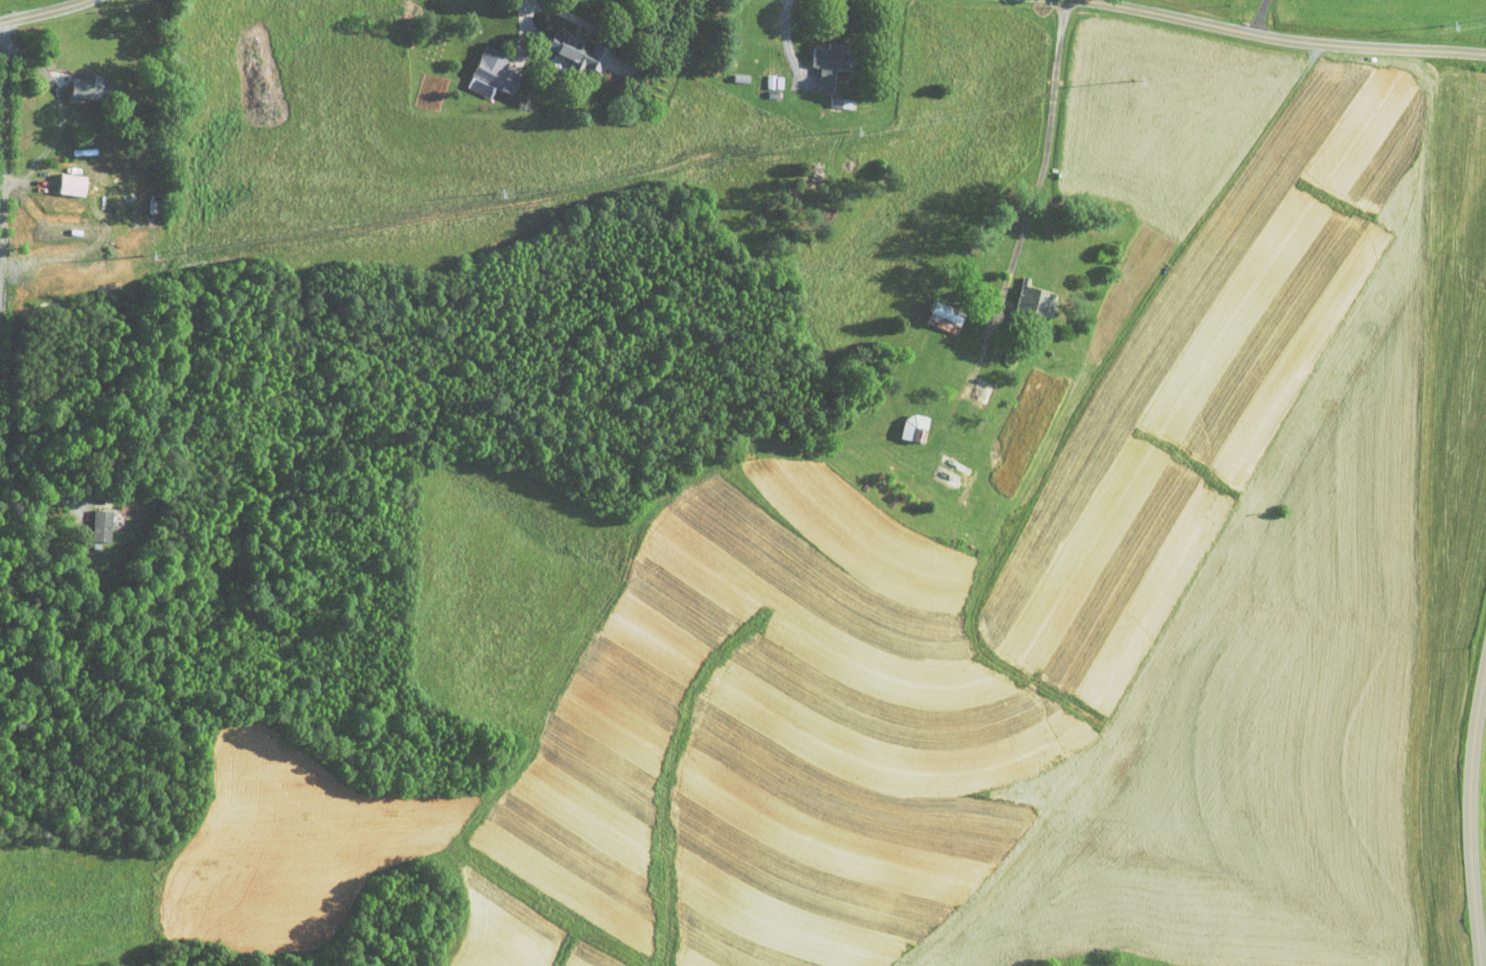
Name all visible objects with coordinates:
road: (42, 13)
road: (1259, 16)
road: (605, 33)
road: (786, 40)
building: (569, 43)
road: (1320, 46)
building: (821, 56)
building: (483, 67)
building: (764, 75)
building: (82, 81)
power tower: (1064, 92)
road: (49, 107)
road: (1009, 109)
power tower: (896, 122)
power tower: (760, 146)
building: (64, 177)
power tower: (418, 205)
road: (1027, 218)
building: (1024, 293)
building: (936, 311)
building: (972, 383)
building: (905, 421)
road: (42, 499)
building: (92, 518)
road: (1468, 817)

